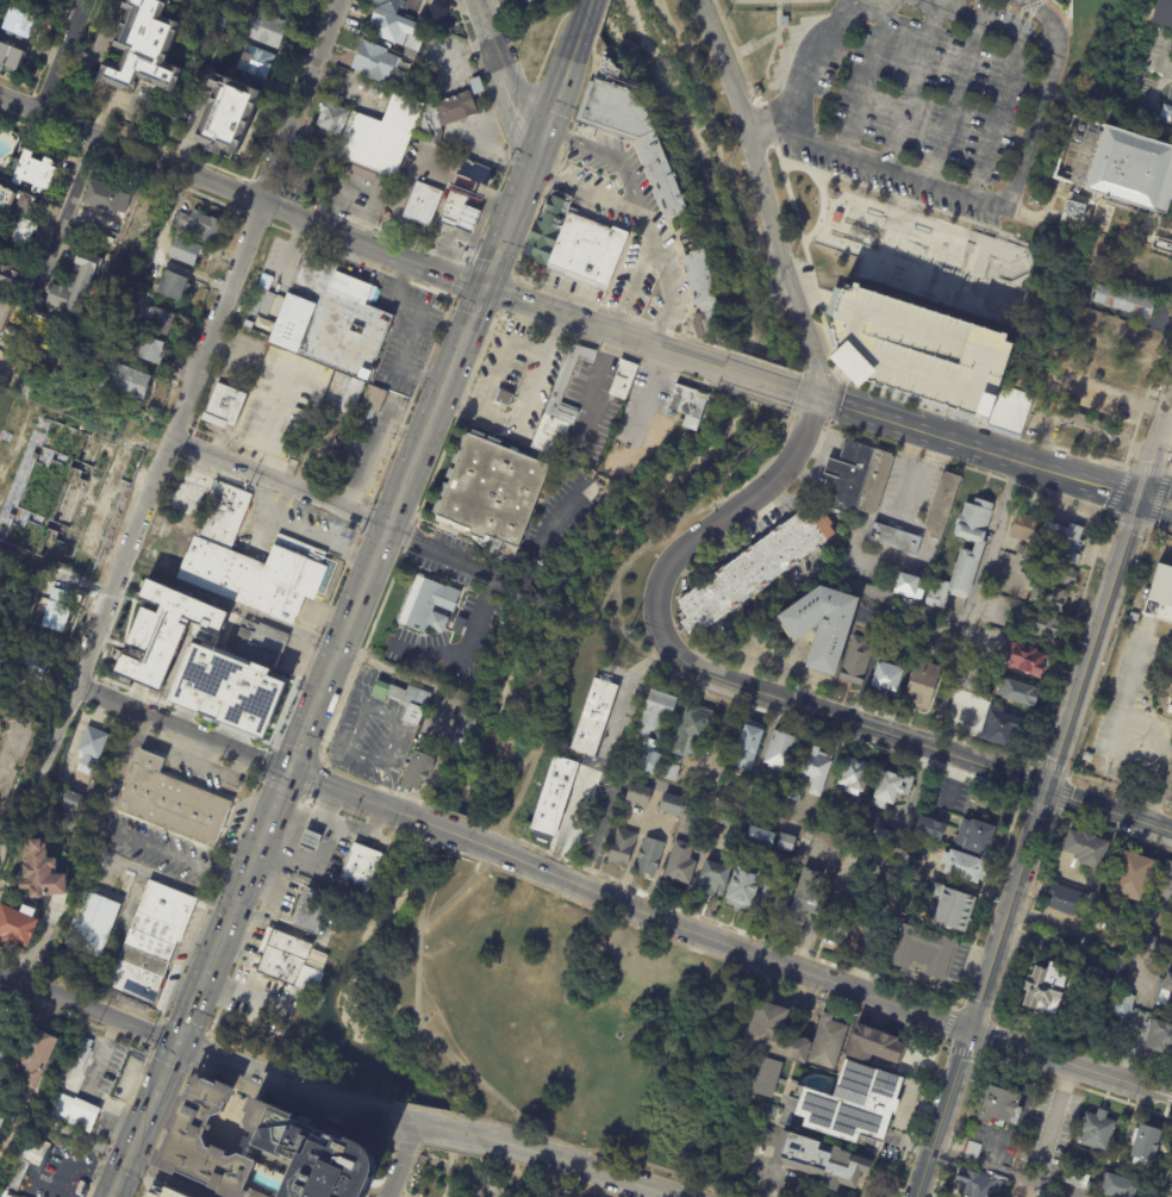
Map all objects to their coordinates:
building: (530, 1)
road: (573, 2)
building: (389, 5)
building: (281, 6)
road: (924, 6)
road: (663, 7)
building: (1161, 8)
road: (584, 17)
building: (436, 18)
building: (785, 21)
building: (218, 23)
road: (600, 23)
building: (17, 26)
building: (266, 29)
building: (394, 29)
road: (1016, 35)
road: (490, 36)
road: (549, 40)
building: (143, 49)
building: (11, 57)
road: (64, 57)
road: (810, 60)
building: (255, 62)
building: (374, 62)
road: (868, 75)
road: (956, 76)
road: (905, 85)
building: (476, 86)
building: (758, 92)
road: (1153, 94)
parking lot: (924, 95)
road: (557, 98)
road: (303, 100)
road: (996, 114)
building: (1167, 114)
building: (227, 116)
road: (519, 117)
road: (1157, 125)
building: (329, 127)
building: (399, 130)
road: (763, 131)
park: (925, 133)
building: (631, 135)
road: (752, 138)
road: (765, 142)
road: (132, 148)
road: (560, 157)
road: (607, 158)
traffic signals: (536, 162)
building: (1115, 164)
building: (308, 173)
building: (472, 173)
building: (363, 174)
road: (587, 191)
building: (25, 198)
building: (104, 198)
road: (997, 200)
road: (69, 201)
building: (423, 205)
road: (515, 210)
building: (1076, 210)
building: (459, 214)
road: (488, 214)
building: (837, 218)
building: (1102, 218)
road: (646, 220)
building: (198, 225)
road: (374, 243)
building: (575, 245)
building: (185, 251)
park: (915, 251)
road: (490, 270)
road: (488, 273)
road: (517, 273)
building: (1154, 274)
road: (518, 278)
building: (13, 280)
road: (460, 281)
road: (631, 281)
building: (74, 285)
building: (174, 286)
road: (426, 287)
traffic signals: (482, 287)
road: (667, 287)
road: (507, 295)
building: (703, 295)
road: (453, 297)
road: (454, 298)
building: (1124, 301)
road: (475, 307)
road: (548, 310)
road: (618, 314)
building: (332, 320)
building: (157, 322)
building: (248, 325)
road: (466, 326)
road: (412, 328)
road: (819, 332)
building: (107, 333)
building: (1123, 335)
road: (810, 339)
building: (38, 344)
building: (150, 350)
building: (916, 350)
parking lot: (916, 350)
road: (229, 351)
road: (500, 351)
road: (668, 351)
road: (643, 361)
road: (765, 363)
building: (1117, 368)
road: (14, 374)
road: (803, 375)
building: (624, 379)
road: (759, 381)
building: (124, 384)
building: (1047, 387)
road: (1147, 391)
building: (344, 394)
building: (503, 397)
building: (561, 397)
building: (1081, 397)
road: (753, 399)
road: (410, 400)
traffic signals: (816, 400)
building: (373, 403)
building: (688, 405)
building: (224, 407)
building: (1010, 409)
road: (525, 410)
road: (978, 423)
building: (1090, 425)
road: (967, 448)
road: (1168, 460)
building: (591, 463)
road: (437, 467)
road: (787, 467)
road: (970, 468)
road: (1146, 469)
road: (1171, 469)
building: (849, 474)
road: (279, 480)
road: (152, 484)
road: (1115, 487)
building: (488, 492)
road: (1157, 497)
road: (1158, 498)
building: (186, 499)
traffic signals: (1142, 499)
building: (18, 500)
road: (280, 500)
building: (940, 504)
road: (1157, 510)
road: (414, 517)
road: (1132, 525)
building: (1027, 526)
road: (1159, 529)
road: (384, 530)
building: (892, 538)
road: (322, 540)
building: (1061, 541)
building: (980, 545)
building: (1021, 550)
road: (659, 553)
road: (450, 556)
building: (1034, 561)
road: (631, 562)
road: (671, 566)
building: (754, 571)
building: (257, 574)
building: (1067, 575)
building: (908, 586)
building: (1162, 592)
building: (937, 594)
building: (1048, 594)
road: (1110, 598)
road: (973, 605)
building: (424, 607)
building: (55, 609)
road: (754, 613)
building: (900, 613)
building: (1135, 617)
building: (1037, 624)
building: (823, 626)
road: (622, 628)
building: (162, 632)
road: (1067, 637)
road: (313, 638)
building: (260, 644)
road: (1109, 650)
building: (1028, 660)
building: (856, 661)
building: (33, 667)
building: (887, 675)
building: (923, 686)
road: (345, 688)
building: (1018, 692)
building: (249, 693)
road: (622, 696)
building: (404, 700)
parking lot: (1132, 709)
building: (1168, 709)
road: (185, 710)
building: (657, 712)
building: (594, 718)
building: (468, 719)
road: (852, 723)
building: (1002, 728)
road: (1136, 729)
building: (692, 730)
road: (301, 731)
building: (660, 737)
road: (149, 741)
building: (92, 744)
building: (749, 746)
building: (10, 749)
road: (242, 750)
building: (781, 750)
building: (1089, 758)
building: (650, 760)
road: (1034, 760)
road: (1052, 766)
road: (212, 767)
traffic signals: (286, 768)
building: (816, 768)
building: (417, 771)
road: (1068, 772)
building: (671, 773)
building: (91, 774)
road: (1068, 775)
road: (253, 777)
building: (854, 777)
road: (1023, 781)
building: (892, 788)
road: (1120, 790)
building: (553, 796)
building: (640, 796)
road: (1061, 796)
building: (71, 800)
building: (172, 802)
road: (517, 804)
building: (672, 805)
road: (1036, 805)
road: (270, 808)
building: (785, 810)
road: (1109, 811)
road: (353, 813)
road: (450, 813)
road: (571, 816)
building: (727, 821)
building: (829, 827)
road: (440, 828)
road: (603, 829)
building: (931, 829)
road: (1112, 831)
road: (1, 833)
road: (799, 833)
road: (121, 835)
road: (1, 837)
building: (977, 837)
building: (761, 838)
building: (889, 838)
building: (310, 842)
road: (429, 843)
building: (786, 843)
building: (622, 848)
building: (1085, 854)
building: (649, 856)
building: (681, 864)
building: (911, 865)
building: (362, 866)
building: (965, 867)
building: (40, 872)
building: (1133, 878)
building: (713, 879)
building: (1165, 887)
building: (743, 889)
road: (459, 892)
road: (208, 897)
building: (775, 898)
building: (808, 898)
road: (986, 898)
building: (1064, 898)
road: (230, 906)
building: (305, 909)
building: (955, 911)
road: (255, 917)
building: (92, 924)
road: (722, 924)
building: (18, 927)
building: (837, 928)
road: (715, 941)
building: (145, 942)
road: (1090, 942)
building: (1146, 942)
road: (697, 952)
building: (925, 953)
building: (281, 956)
building: (1168, 984)
building: (1046, 992)
road: (245, 993)
road: (981, 993)
road: (192, 1004)
building: (1170, 1004)
building: (1124, 1005)
road: (975, 1006)
building: (1, 1016)
road: (162, 1018)
park: (554, 1018)
road: (946, 1022)
road: (183, 1028)
building: (775, 1033)
road: (154, 1034)
building: (1162, 1040)
building: (828, 1041)
road: (1079, 1041)
traffic signals: (177, 1042)
building: (875, 1045)
road: (943, 1047)
road: (961, 1051)
road: (199, 1053)
road: (204, 1053)
building: (80, 1058)
road: (172, 1058)
building: (33, 1059)
road: (1056, 1060)
road: (456, 1062)
road: (164, 1070)
road: (195, 1070)
road: (301, 1076)
building: (767, 1078)
road: (1070, 1084)
road: (1158, 1087)
road: (1157, 1097)
road: (1168, 1098)
road: (300, 1105)
building: (854, 1105)
road: (124, 1106)
building: (1002, 1106)
building: (67, 1110)
road: (1165, 1110)
road: (440, 1111)
road: (915, 1116)
road: (1167, 1116)
building: (1, 1122)
road: (1051, 1126)
road: (163, 1127)
road: (470, 1127)
road: (63, 1130)
building: (1098, 1130)
road: (453, 1131)
road: (460, 1137)
building: (1147, 1145)
road: (131, 1147)
road: (414, 1147)
building: (257, 1148)
building: (973, 1149)
road: (457, 1151)
road: (604, 1151)
road: (560, 1153)
building: (29, 1160)
road: (401, 1160)
building: (822, 1161)
road: (488, 1165)
road: (525, 1166)
road: (574, 1170)
road: (449, 1171)
road: (382, 1172)
road: (774, 1172)
road: (1165, 1174)
road: (995, 1176)
road: (170, 1177)
building: (1078, 1179)
road: (561, 1180)
park: (530, 1182)
building: (980, 1185)
building: (1121, 1186)
building: (162, 1191)
parking lot: (162, 1191)
road: (598, 1191)
building: (8, 1193)
road: (399, 1193)
road: (816, 1195)
road: (401, 1196)

